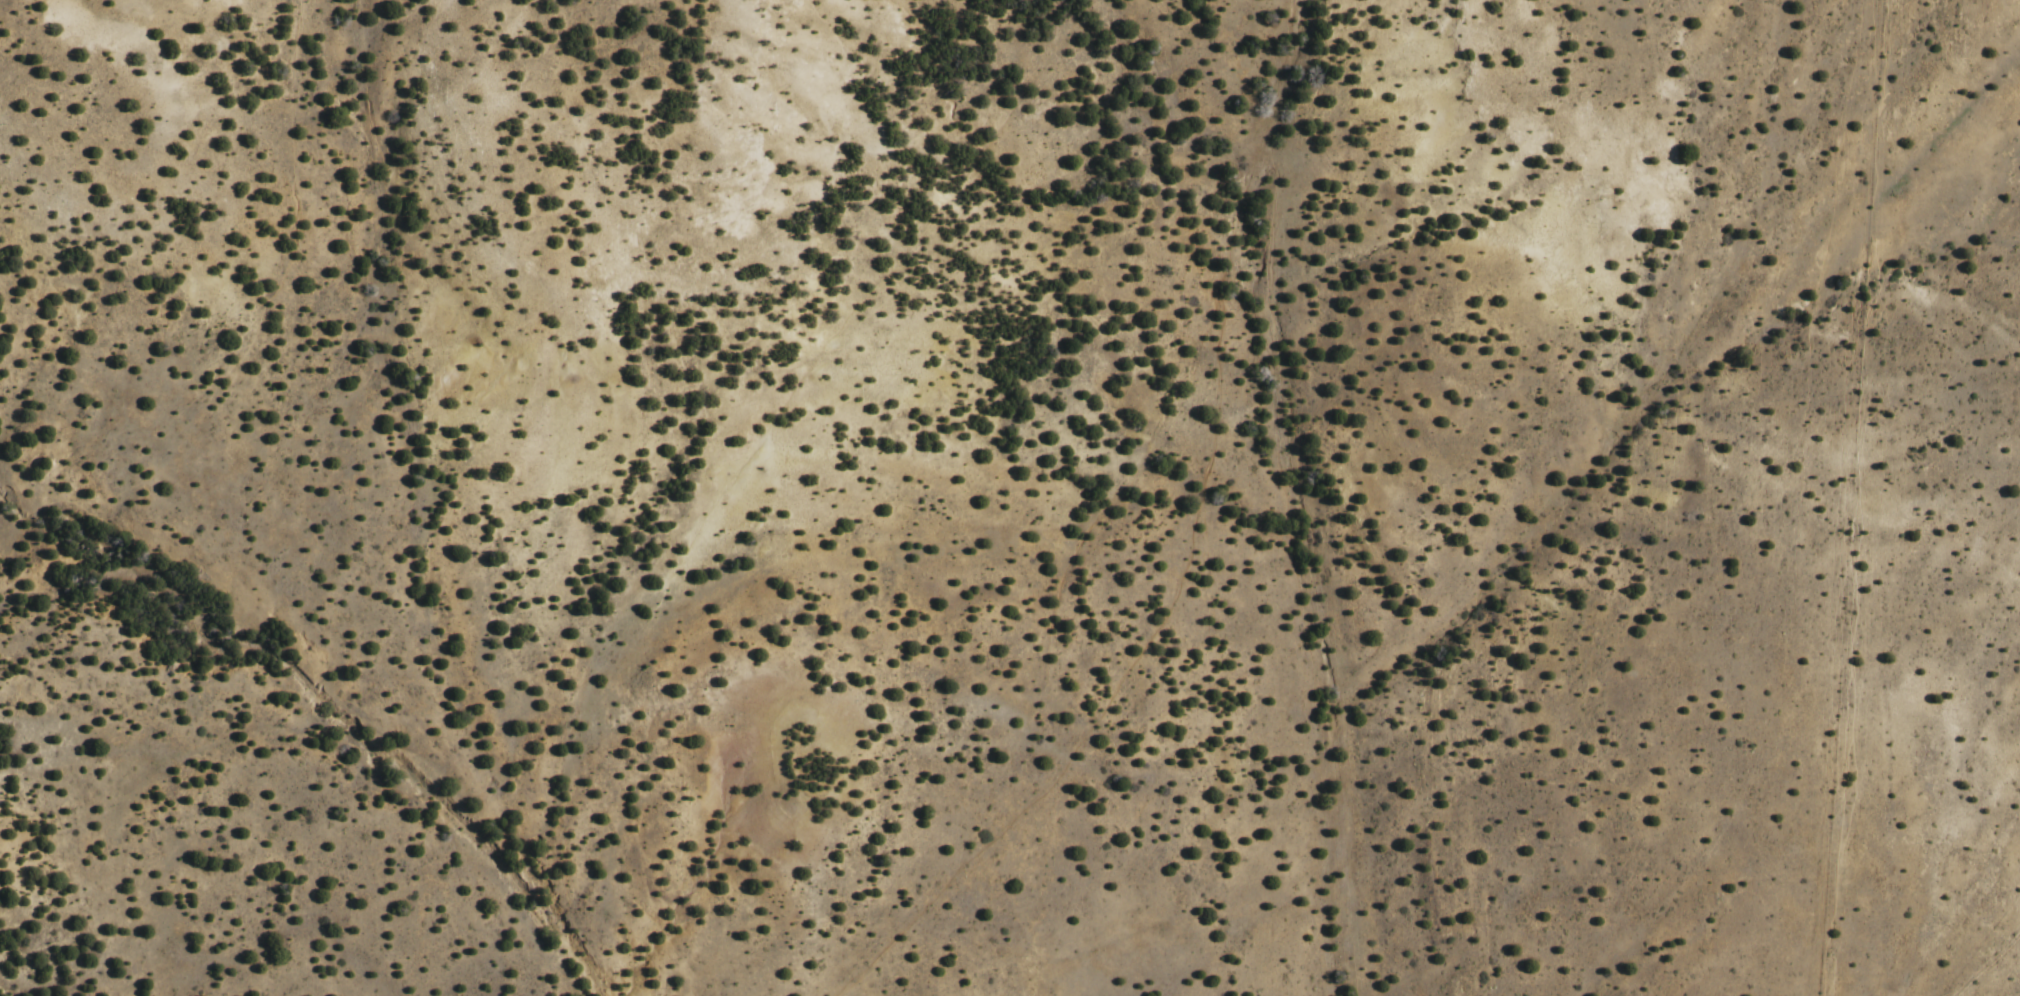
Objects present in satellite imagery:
road: (1998, 968)

